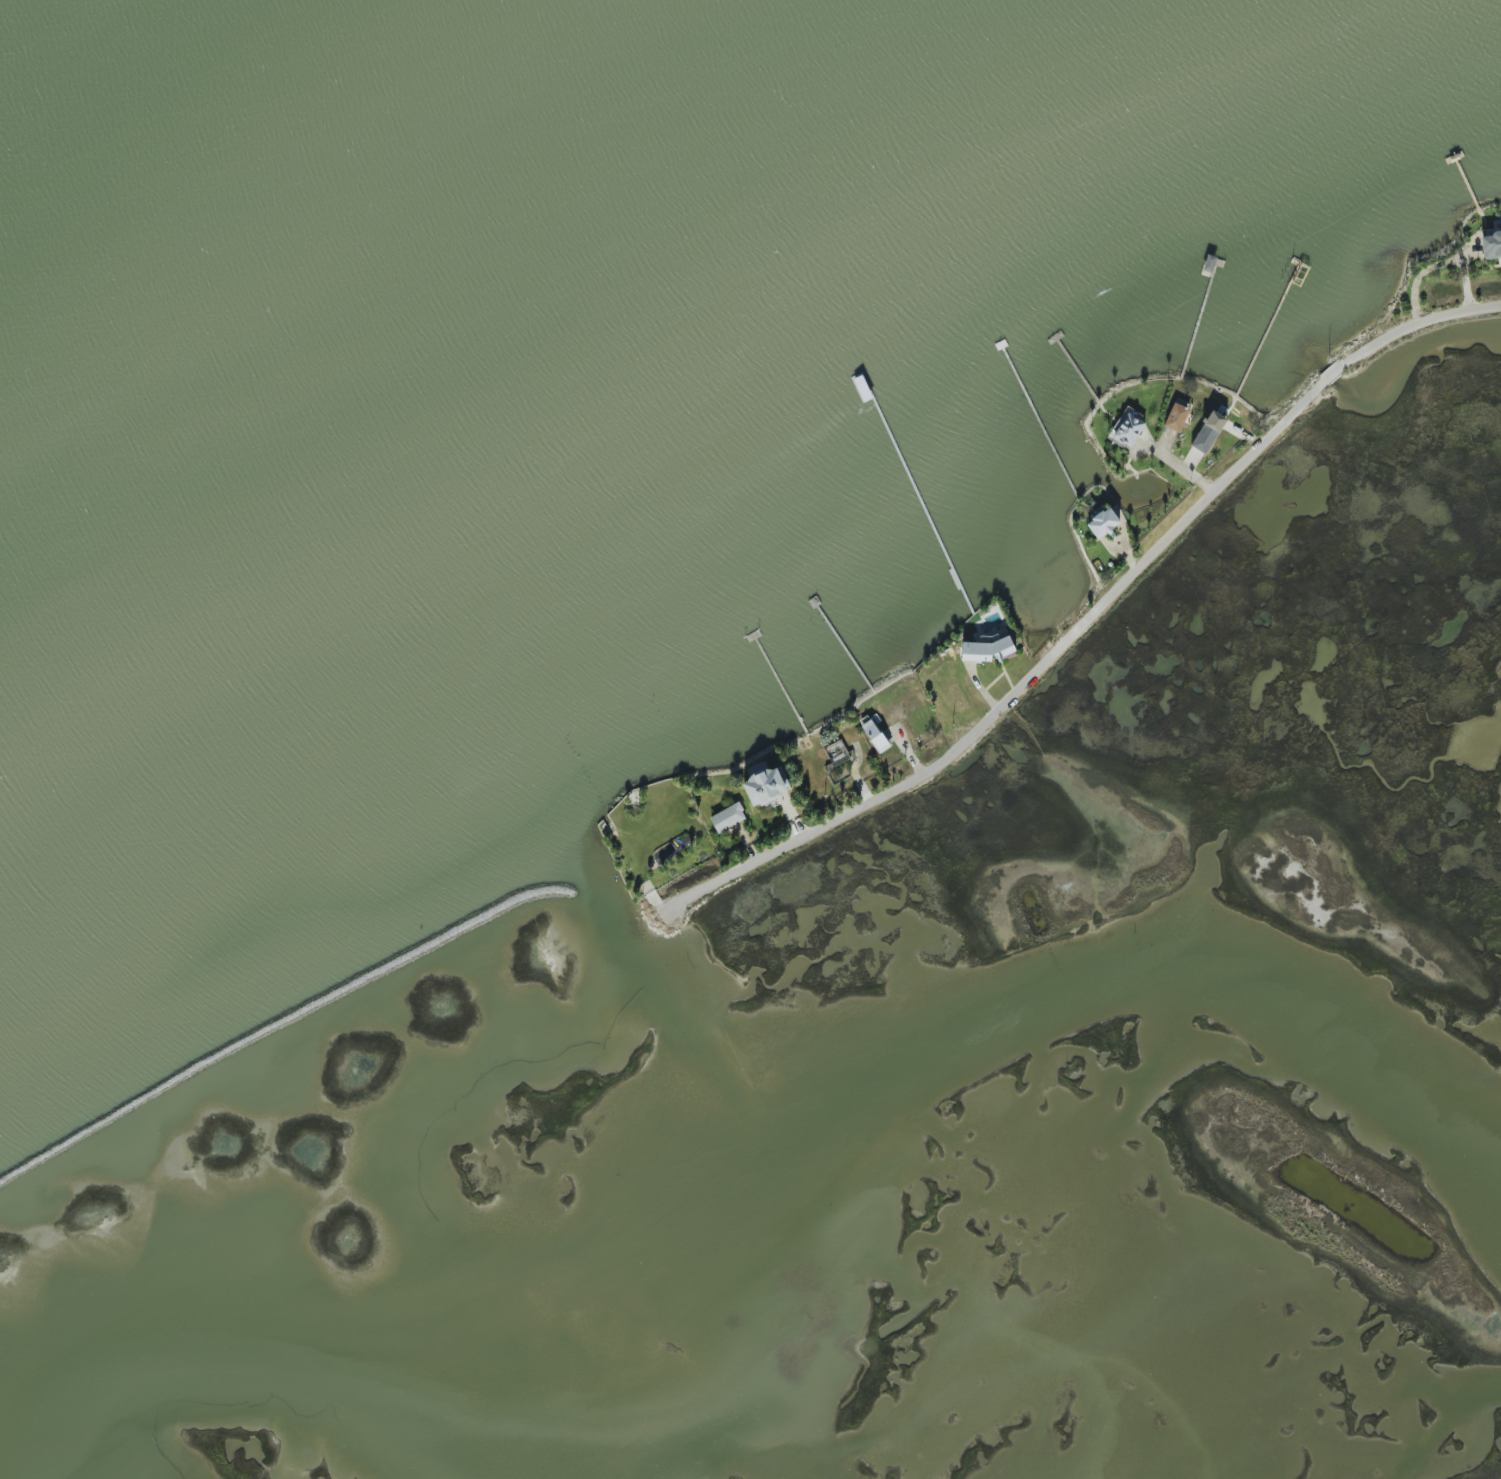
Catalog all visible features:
building: (1492, 246)
road: (1415, 325)
road: (1333, 374)
building: (1178, 415)
building: (1128, 428)
building: (1209, 432)
building: (1104, 523)
building: (984, 650)
road: (1024, 685)
building: (876, 733)
building: (767, 786)
building: (729, 818)

